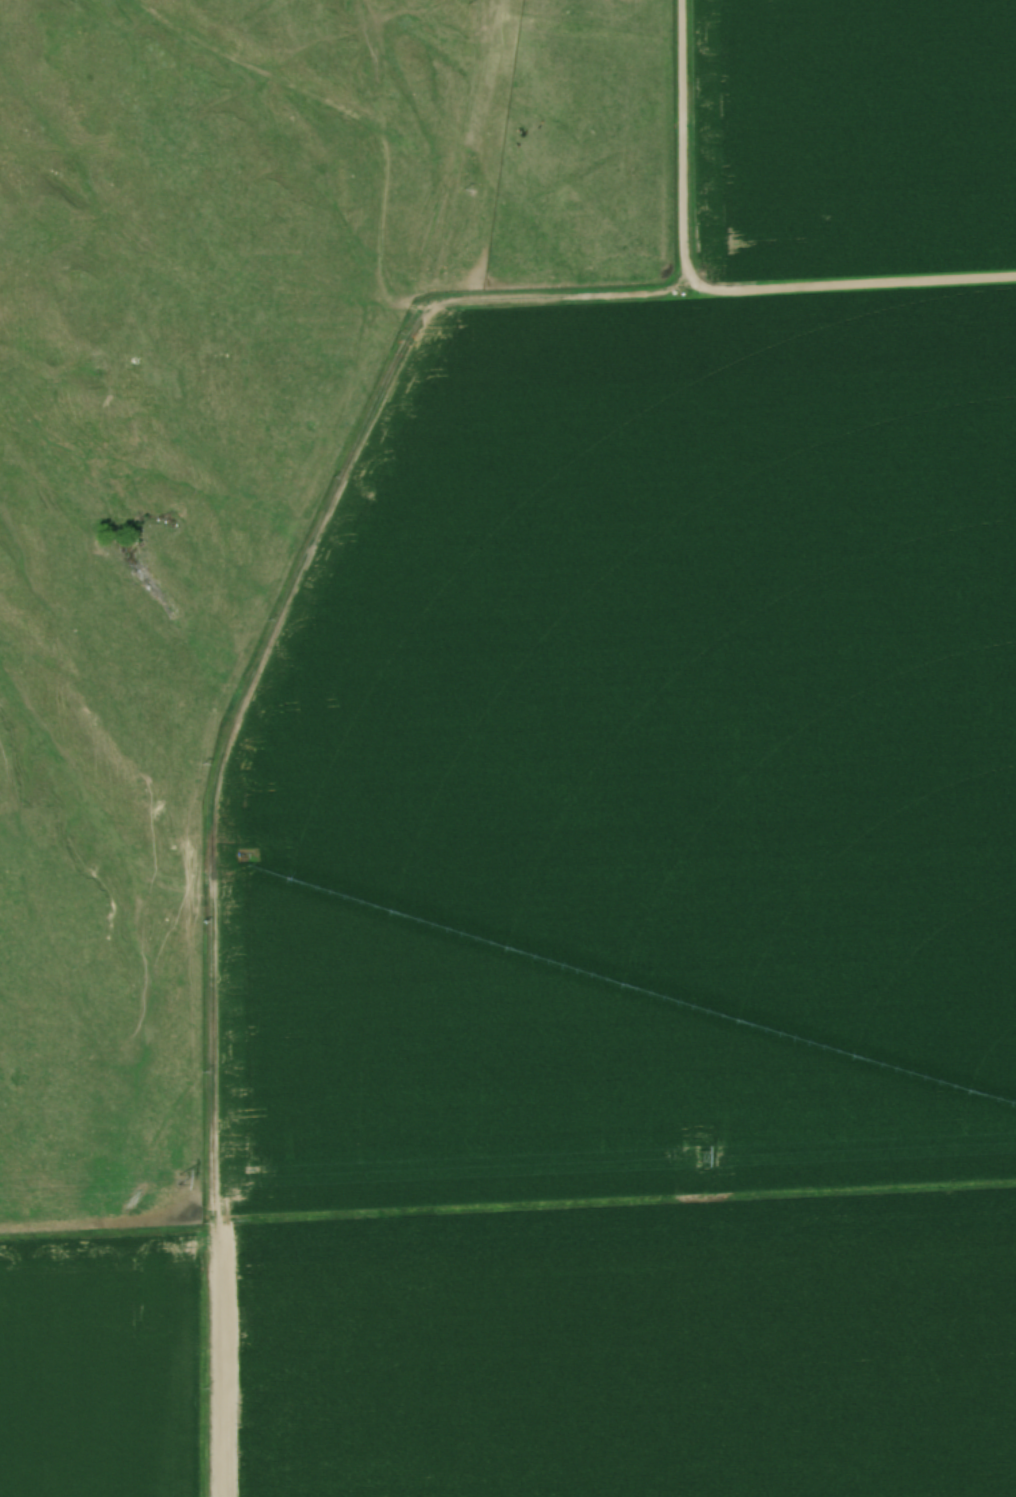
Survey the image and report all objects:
road: (713, 291)
power tower: (700, 1158)
power tower: (179, 1181)

